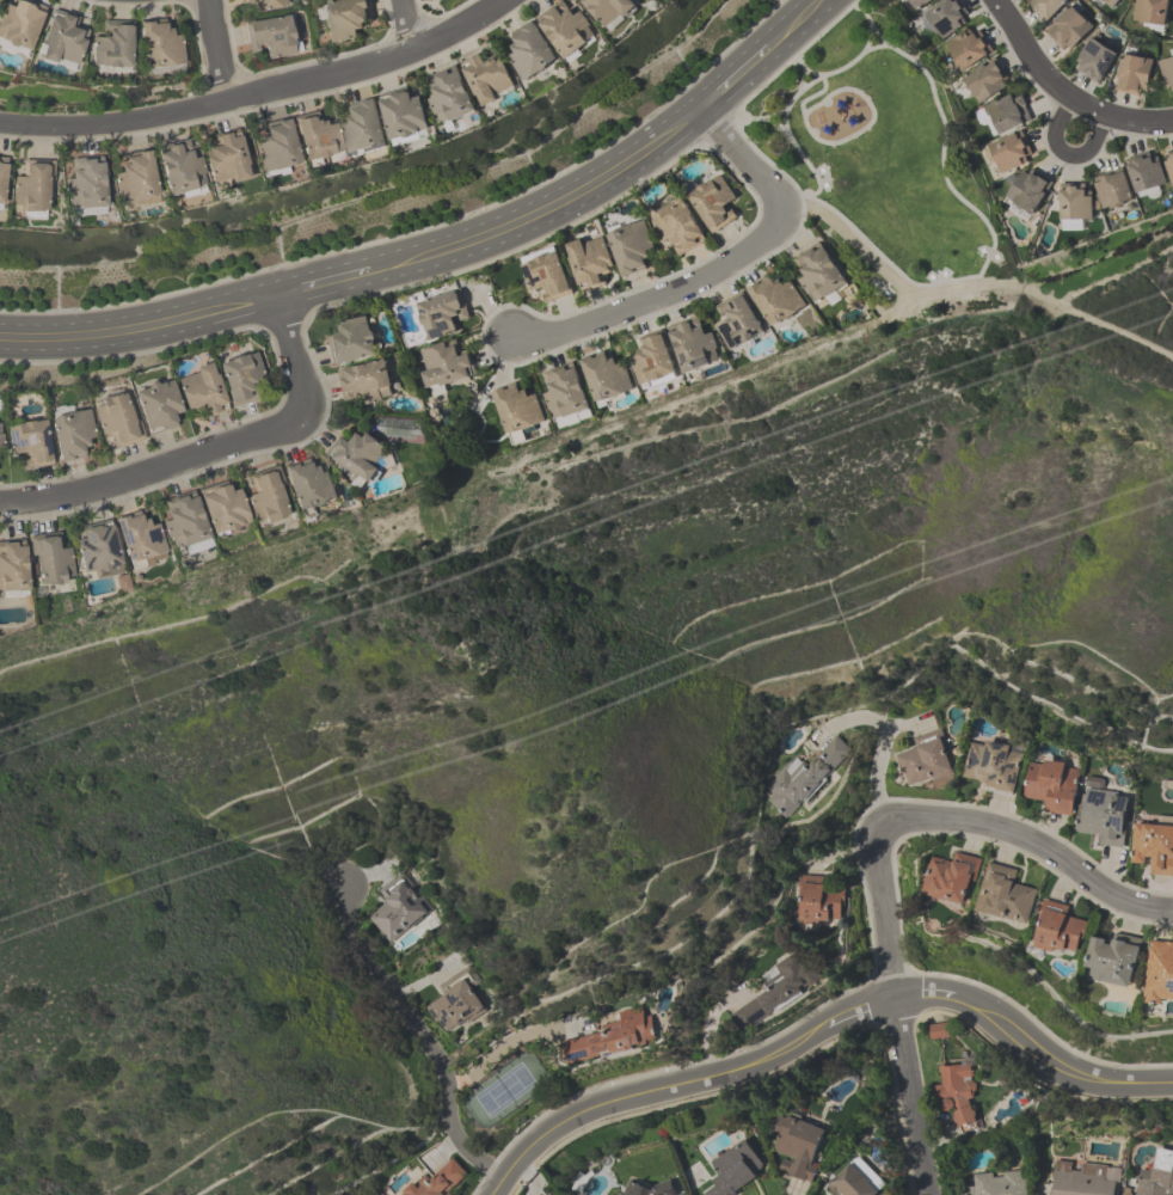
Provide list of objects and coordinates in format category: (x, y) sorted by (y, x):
building: (920, 4)
building: (1111, 4)
building: (268, 5)
building: (1046, 7)
building: (610, 11)
building: (1150, 13)
building: (947, 17)
building: (344, 19)
road: (407, 24)
road: (794, 24)
building: (20, 25)
building: (1070, 29)
building: (566, 30)
building: (274, 36)
building: (63, 42)
building: (162, 48)
building: (113, 49)
road: (216, 49)
building: (969, 49)
building: (532, 51)
building: (1095, 63)
road: (786, 65)
building: (1167, 71)
building: (1134, 76)
road: (733, 78)
building: (490, 79)
building: (987, 81)
road: (258, 90)
road: (1063, 92)
building: (450, 97)
building: (1005, 115)
road: (762, 119)
building: (386, 122)
building: (319, 140)
park: (876, 146)
building: (278, 148)
road: (1064, 151)
building: (1012, 152)
road: (942, 153)
building: (228, 160)
road: (744, 161)
building: (1169, 166)
building: (183, 170)
building: (1146, 173)
building: (137, 182)
building: (4, 183)
building: (87, 185)
building: (1113, 190)
building: (33, 191)
building: (1027, 194)
building: (713, 203)
building: (1074, 206)
road: (542, 209)
building: (677, 226)
building: (632, 247)
building: (590, 261)
building: (819, 274)
building: (547, 276)
road: (324, 281)
road: (655, 296)
building: (778, 301)
building: (442, 314)
building: (738, 321)
road: (141, 326)
building: (352, 341)
building: (693, 345)
road: (294, 349)
building: (653, 361)
building: (443, 367)
building: (607, 376)
building: (241, 378)
building: (367, 382)
building: (202, 390)
building: (565, 393)
building: (159, 405)
building: (518, 409)
building: (119, 418)
building: (73, 433)
building: (32, 441)
building: (0, 447)
building: (360, 454)
road: (155, 468)
building: (311, 485)
building: (247, 504)
building: (185, 522)
building: (119, 545)
building: (53, 563)
building: (13, 569)
road: (880, 752)
building: (926, 760)
building: (993, 766)
building: (804, 778)
building: (1052, 785)
building: (1104, 813)
road: (1026, 840)
building: (1153, 847)
building: (952, 878)
building: (1006, 895)
building: (818, 902)
building: (399, 908)
road: (889, 920)
building: (1061, 930)
building: (1116, 960)
building: (1160, 973)
building: (779, 989)
building: (455, 1005)
road: (708, 1023)
building: (939, 1032)
road: (417, 1036)
building: (618, 1037)
road: (502, 1044)
road: (1033, 1046)
road: (693, 1079)
building: (957, 1093)
road: (911, 1096)
building: (798, 1146)
building: (735, 1170)
building: (1156, 1175)
building: (1082, 1178)
building: (441, 1182)
building: (852, 1182)
building: (997, 1183)
road: (497, 1185)
building: (645, 1188)

